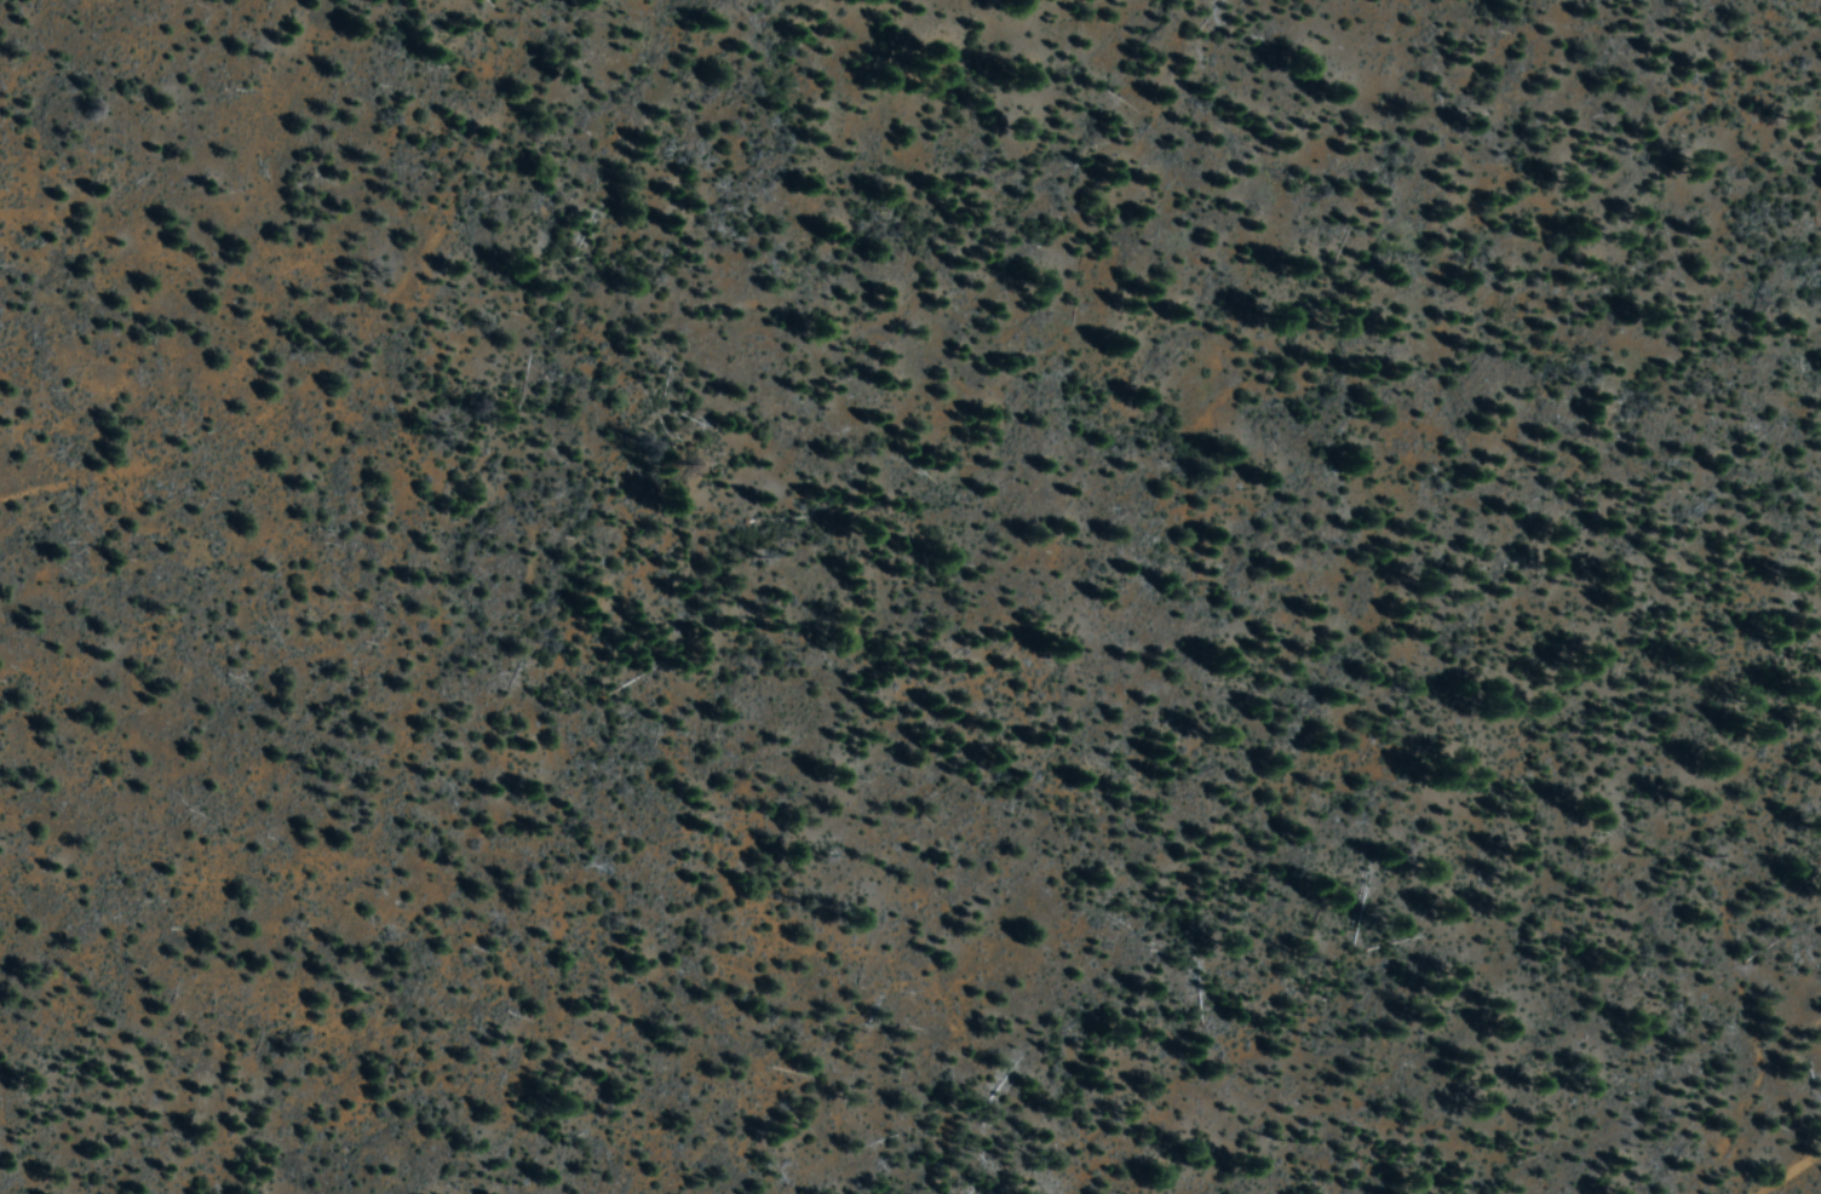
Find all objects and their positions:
road: (1802, 1178)

